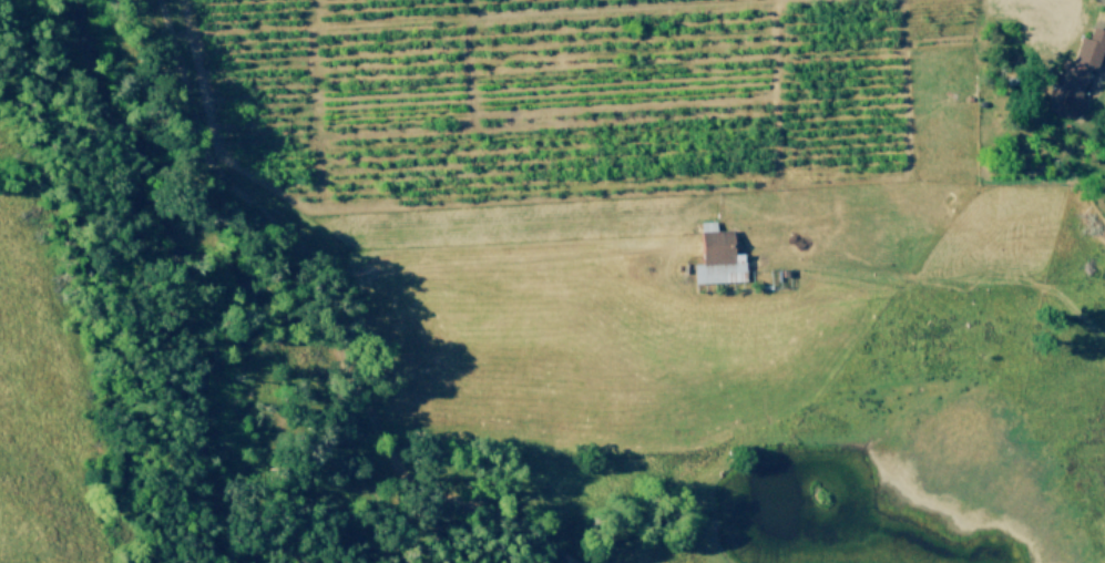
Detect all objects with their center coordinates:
building: (1089, 49)
building: (718, 257)

